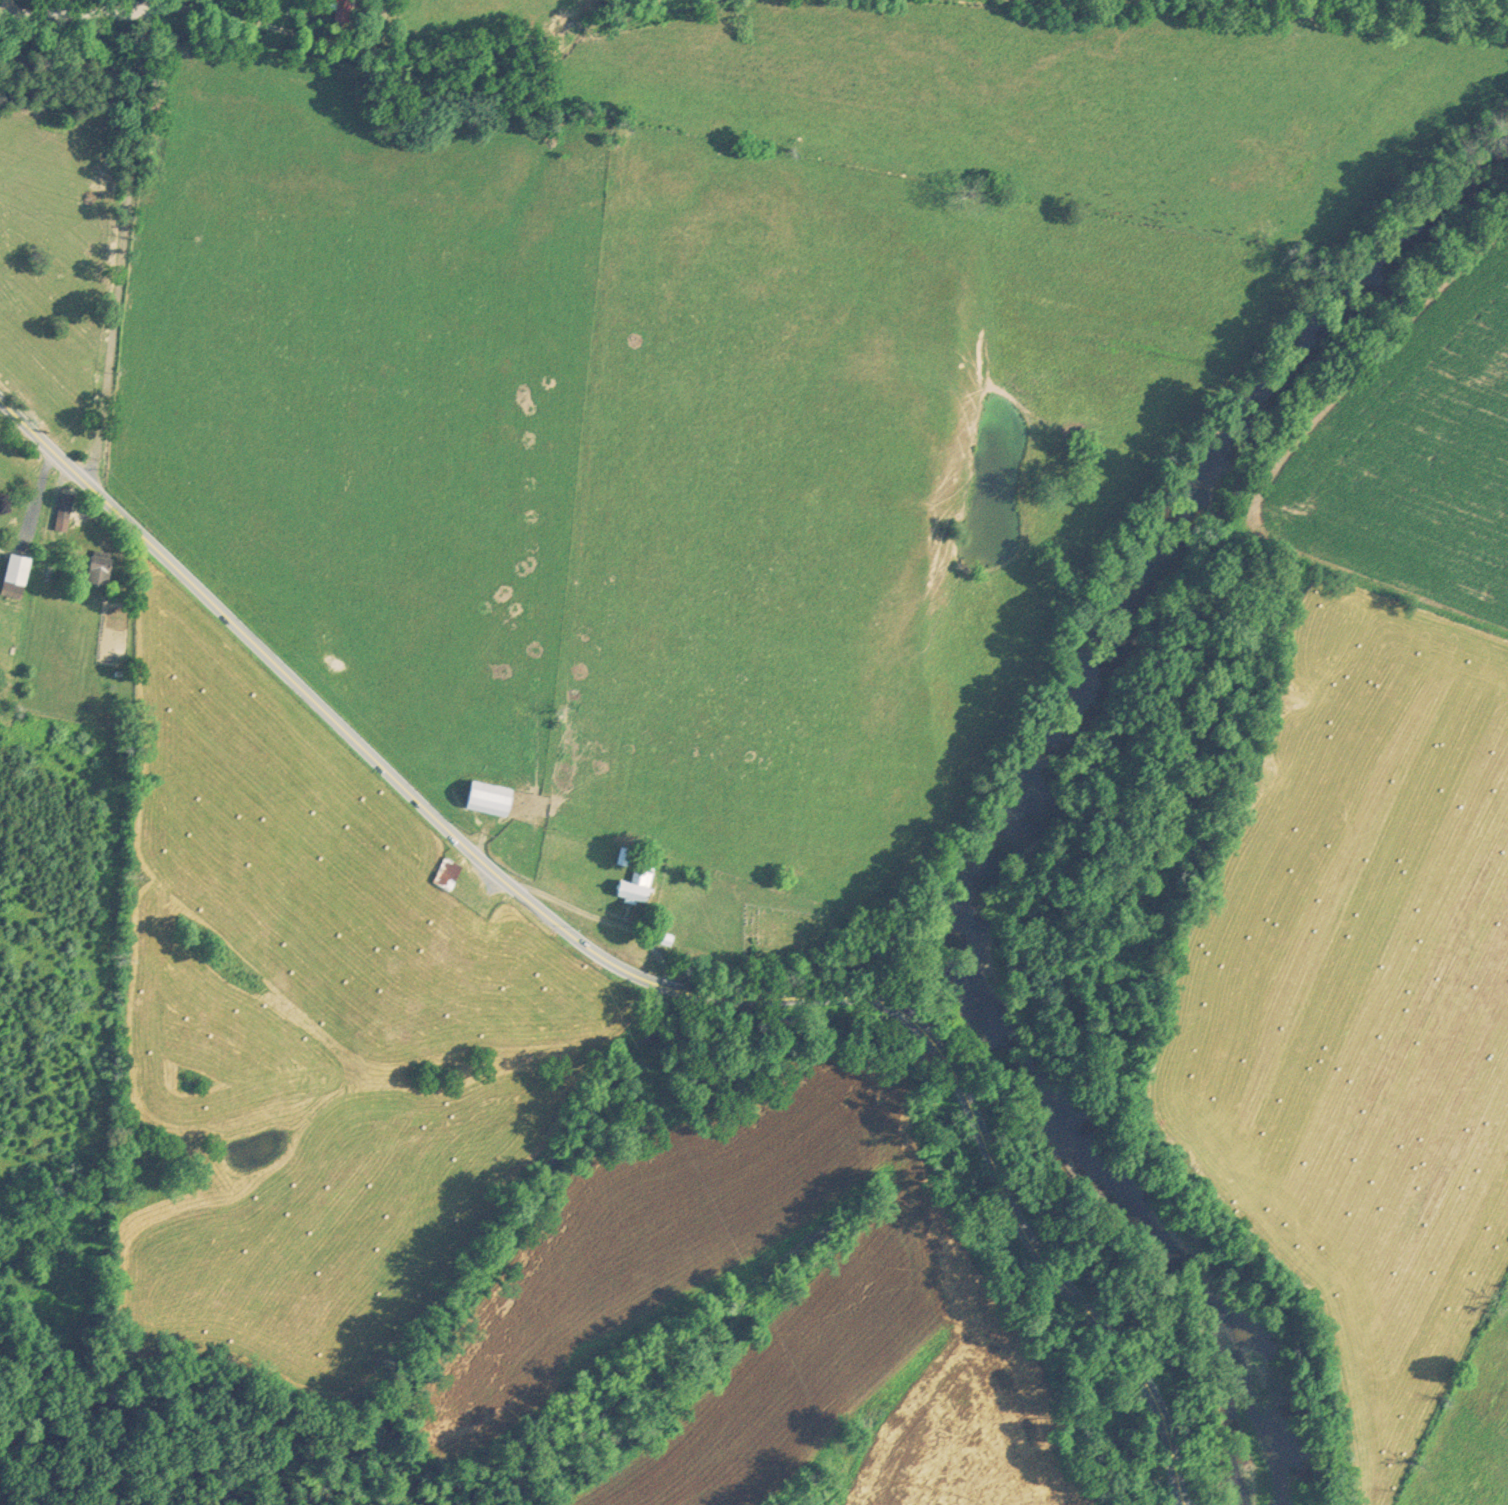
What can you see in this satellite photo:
road: (156, 3)
building: (339, 8)
road: (78, 17)
road: (109, 341)
building: (62, 509)
building: (97, 568)
building: (13, 574)
building: (487, 795)
river: (1029, 801)
building: (621, 858)
building: (445, 871)
building: (636, 880)
road: (632, 972)

